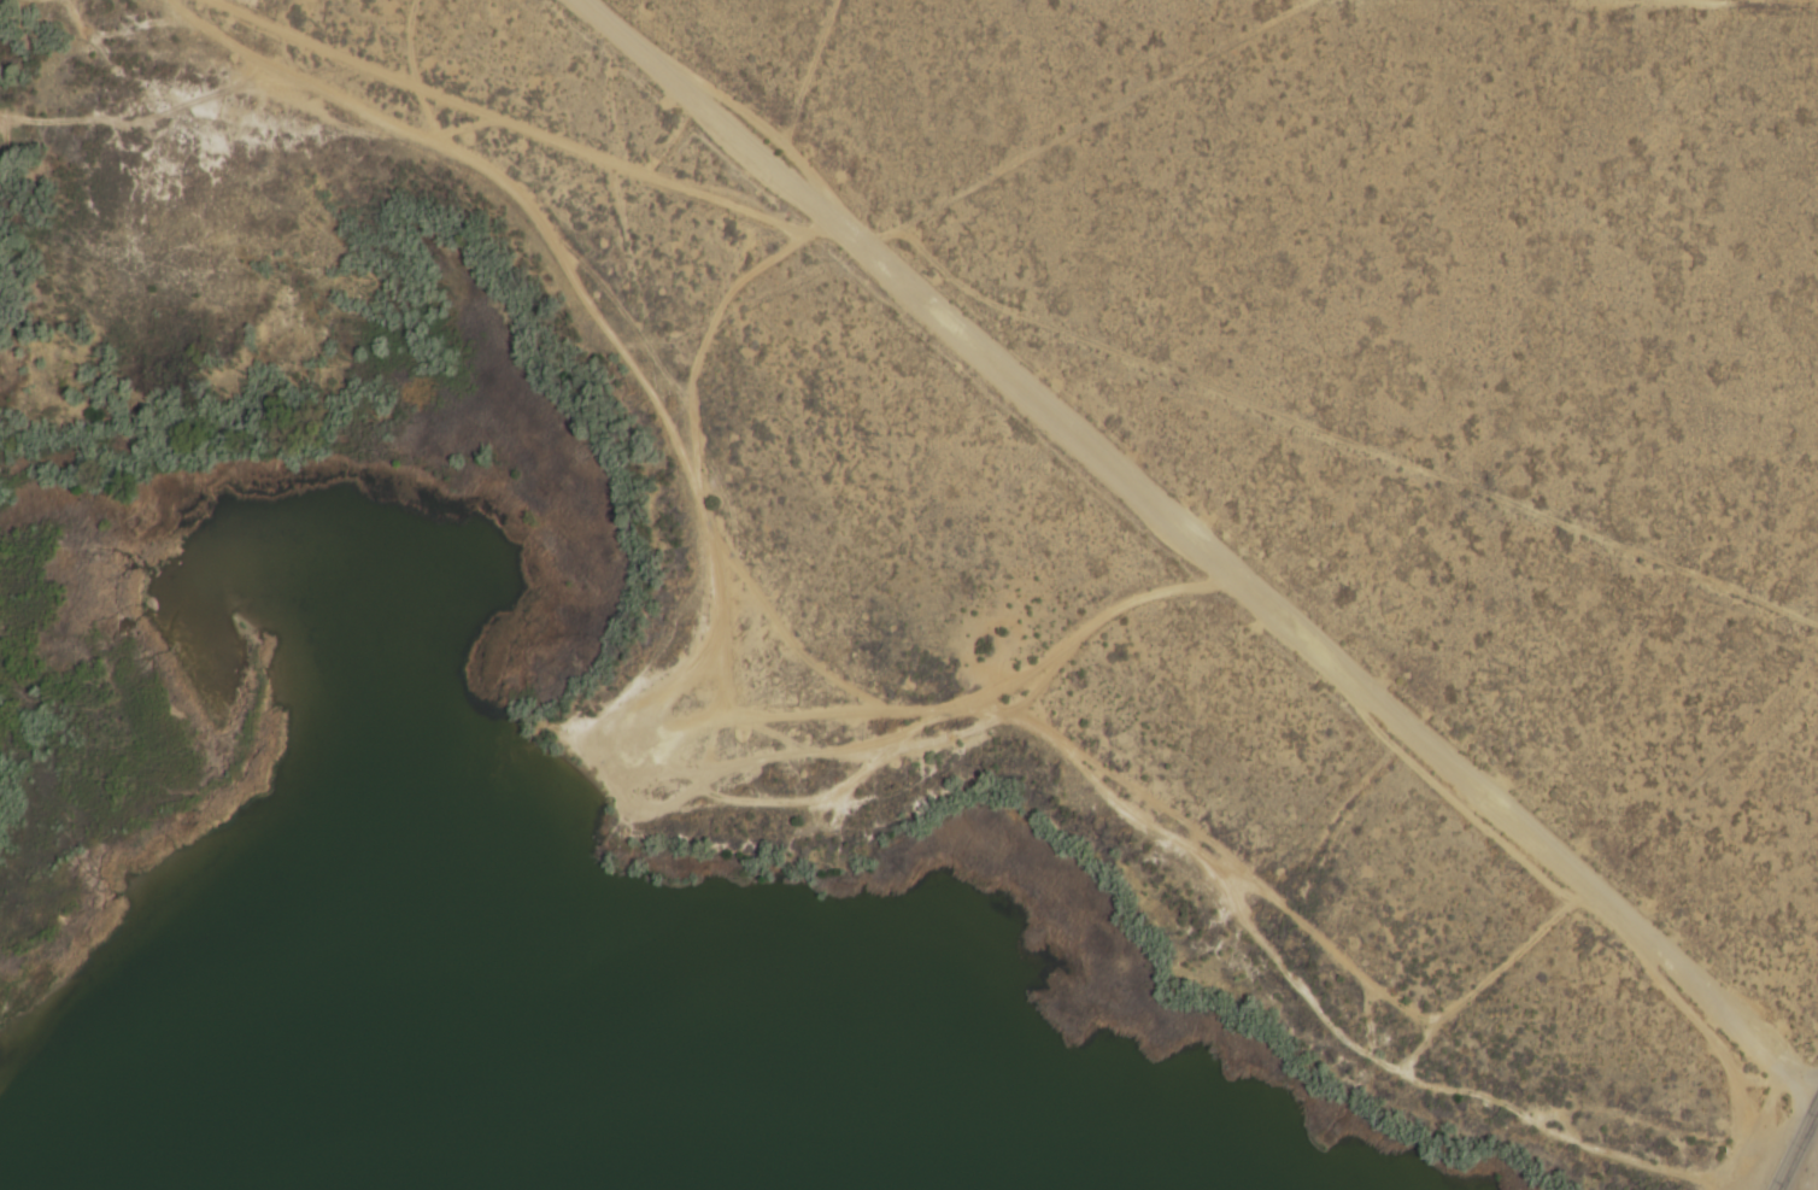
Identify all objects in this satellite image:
road: (1204, 547)
road: (1796, 1153)

